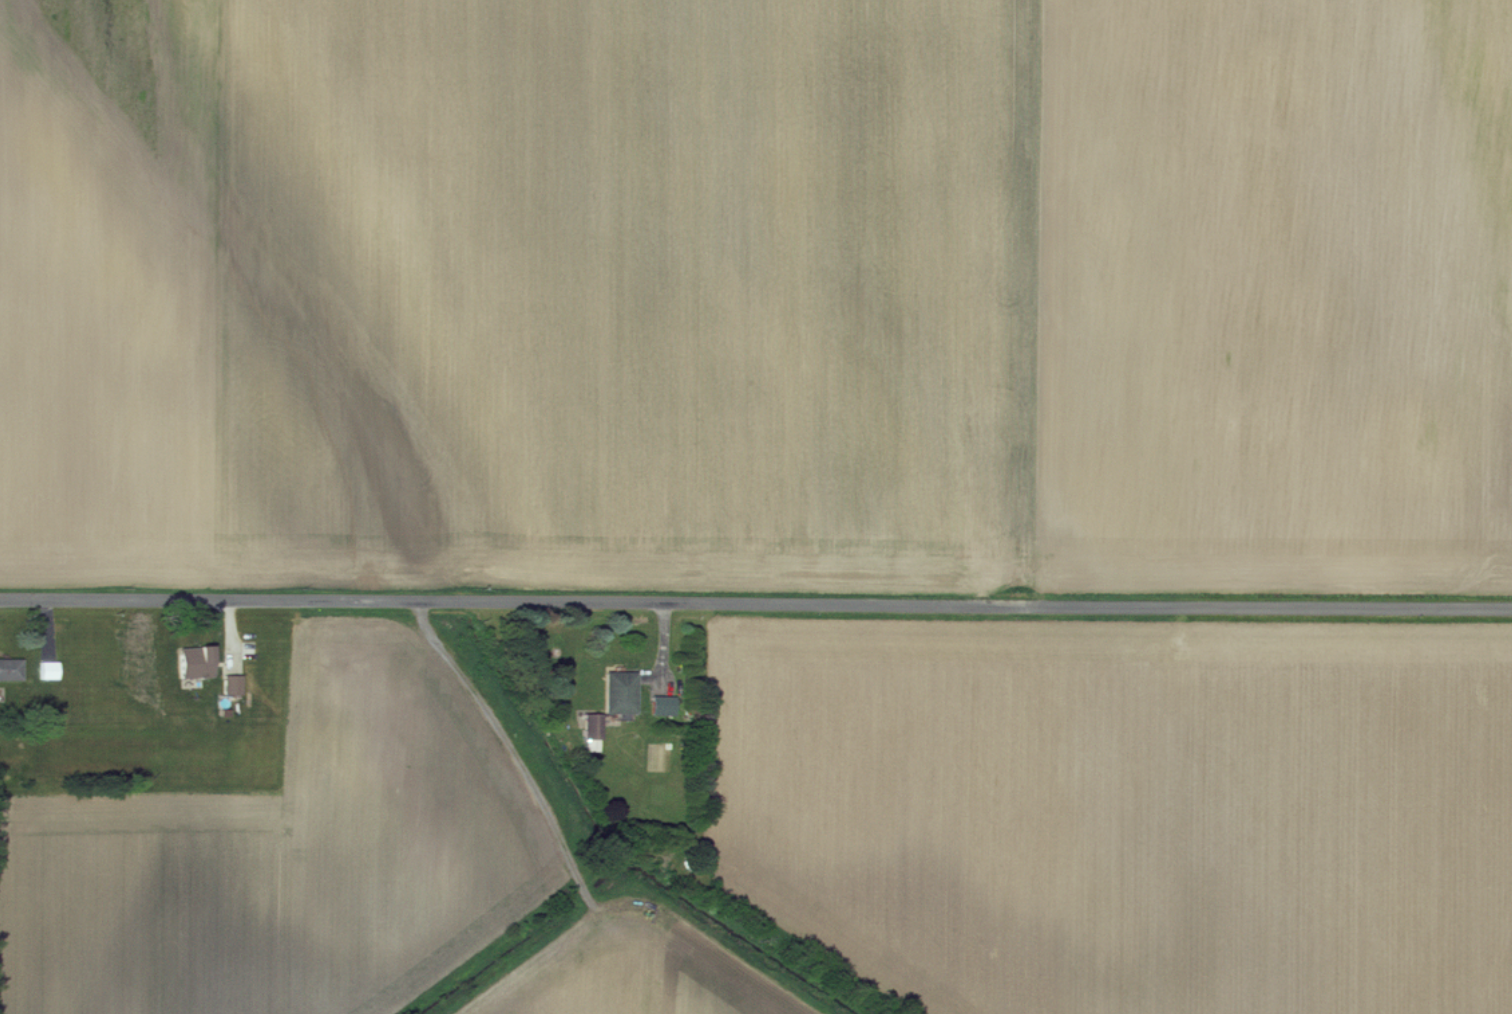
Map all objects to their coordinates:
road: (756, 603)
building: (195, 660)
building: (10, 668)
building: (48, 669)
building: (232, 684)
building: (662, 705)

